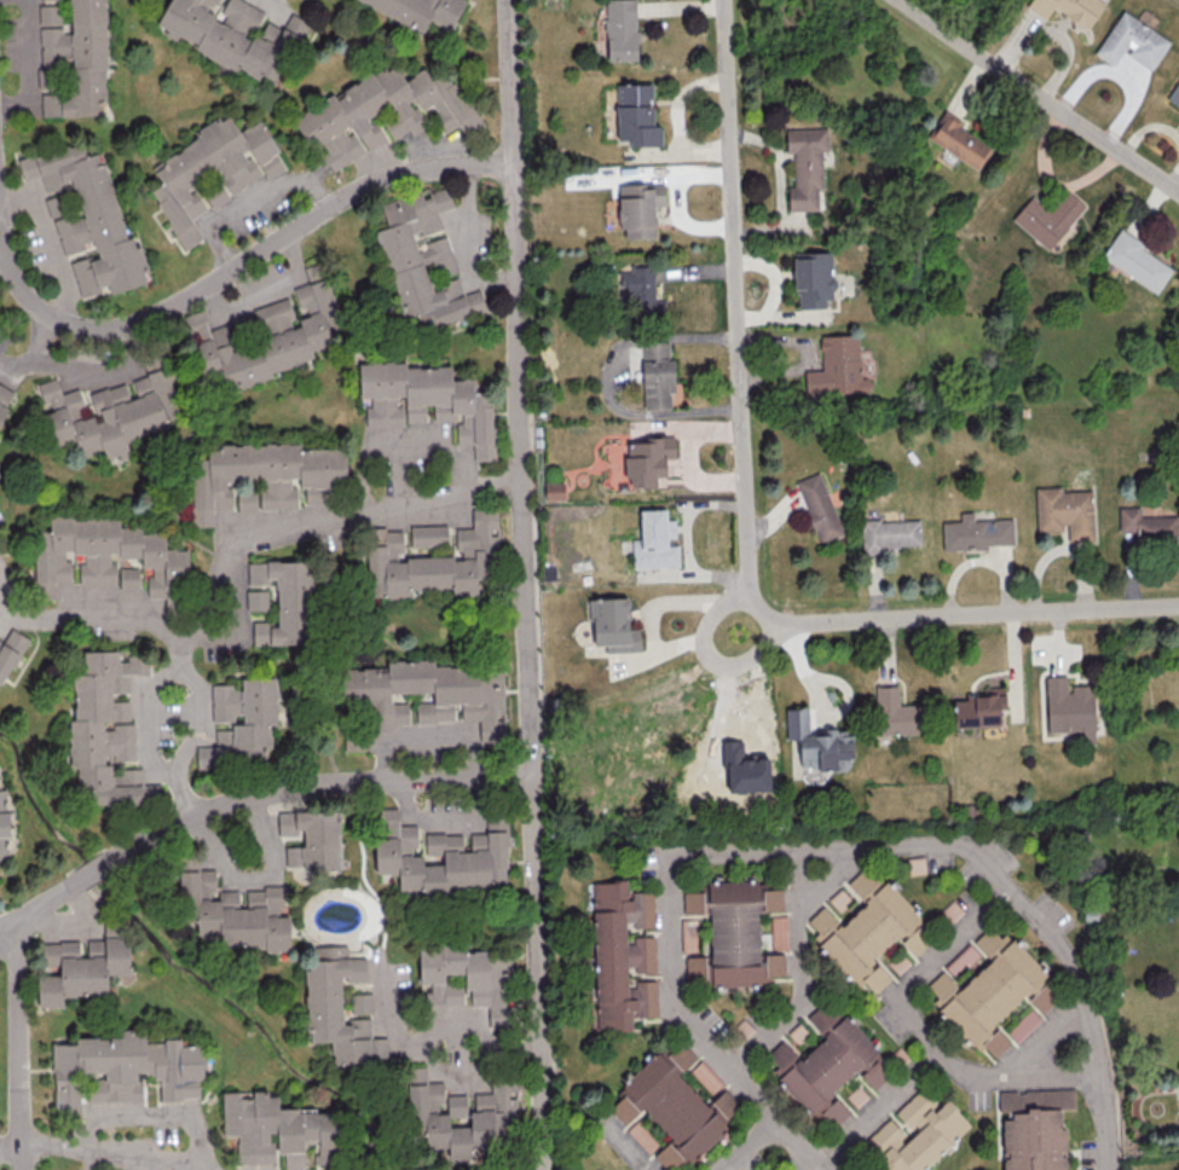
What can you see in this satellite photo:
building: (1069, 8)
building: (420, 11)
building: (620, 29)
building: (233, 34)
building: (1131, 41)
building: (73, 59)
road: (25, 62)
building: (1174, 93)
road: (1039, 95)
building: (636, 115)
building: (335, 116)
building: (959, 141)
building: (366, 161)
building: (805, 167)
building: (213, 170)
road: (252, 205)
building: (638, 208)
building: (1047, 218)
building: (91, 219)
road: (2, 237)
road: (51, 238)
road: (462, 247)
building: (421, 256)
building: (1137, 261)
road: (225, 274)
building: (814, 278)
road: (265, 290)
building: (642, 291)
building: (271, 334)
road: (35, 347)
building: (836, 367)
road: (98, 372)
building: (657, 375)
building: (4, 399)
building: (428, 400)
building: (110, 413)
road: (400, 445)
building: (648, 461)
road: (400, 471)
building: (261, 476)
building: (554, 490)
building: (819, 506)
building: (1065, 511)
road: (749, 517)
building: (1149, 522)
building: (977, 532)
building: (890, 533)
building: (428, 534)
building: (655, 540)
road: (233, 545)
building: (106, 555)
building: (434, 560)
building: (129, 578)
road: (4, 584)
road: (526, 585)
road: (4, 597)
building: (256, 600)
building: (284, 601)
road: (88, 607)
road: (649, 613)
road: (239, 620)
building: (613, 624)
building: (10, 650)
road: (709, 659)
building: (434, 693)
road: (174, 705)
building: (1070, 707)
road: (197, 708)
building: (979, 708)
building: (895, 712)
building: (241, 720)
building: (106, 732)
road: (423, 735)
building: (816, 742)
building: (744, 770)
road: (320, 788)
building: (5, 824)
building: (312, 839)
road: (868, 846)
building: (439, 855)
road: (96, 867)
road: (256, 880)
building: (843, 902)
road: (35, 904)
building: (233, 909)
road: (801, 916)
road: (77, 929)
building: (868, 929)
building: (778, 932)
building: (732, 934)
building: (622, 955)
building: (80, 967)
road: (929, 971)
building: (468, 979)
building: (987, 991)
building: (1042, 997)
building: (360, 1002)
building: (337, 1007)
road: (389, 1018)
building: (1022, 1024)
road: (443, 1025)
road: (767, 1031)
road: (16, 1044)
road: (516, 1050)
building: (828, 1065)
building: (125, 1067)
road: (1017, 1075)
building: (706, 1076)
road: (742, 1095)
building: (675, 1106)
road: (884, 1110)
road: (151, 1111)
building: (462, 1117)
road: (1105, 1120)
building: (1034, 1128)
building: (279, 1130)
building: (914, 1134)
road: (8, 1147)
road: (609, 1147)
road: (744, 1147)
road: (114, 1153)
road: (823, 1166)

